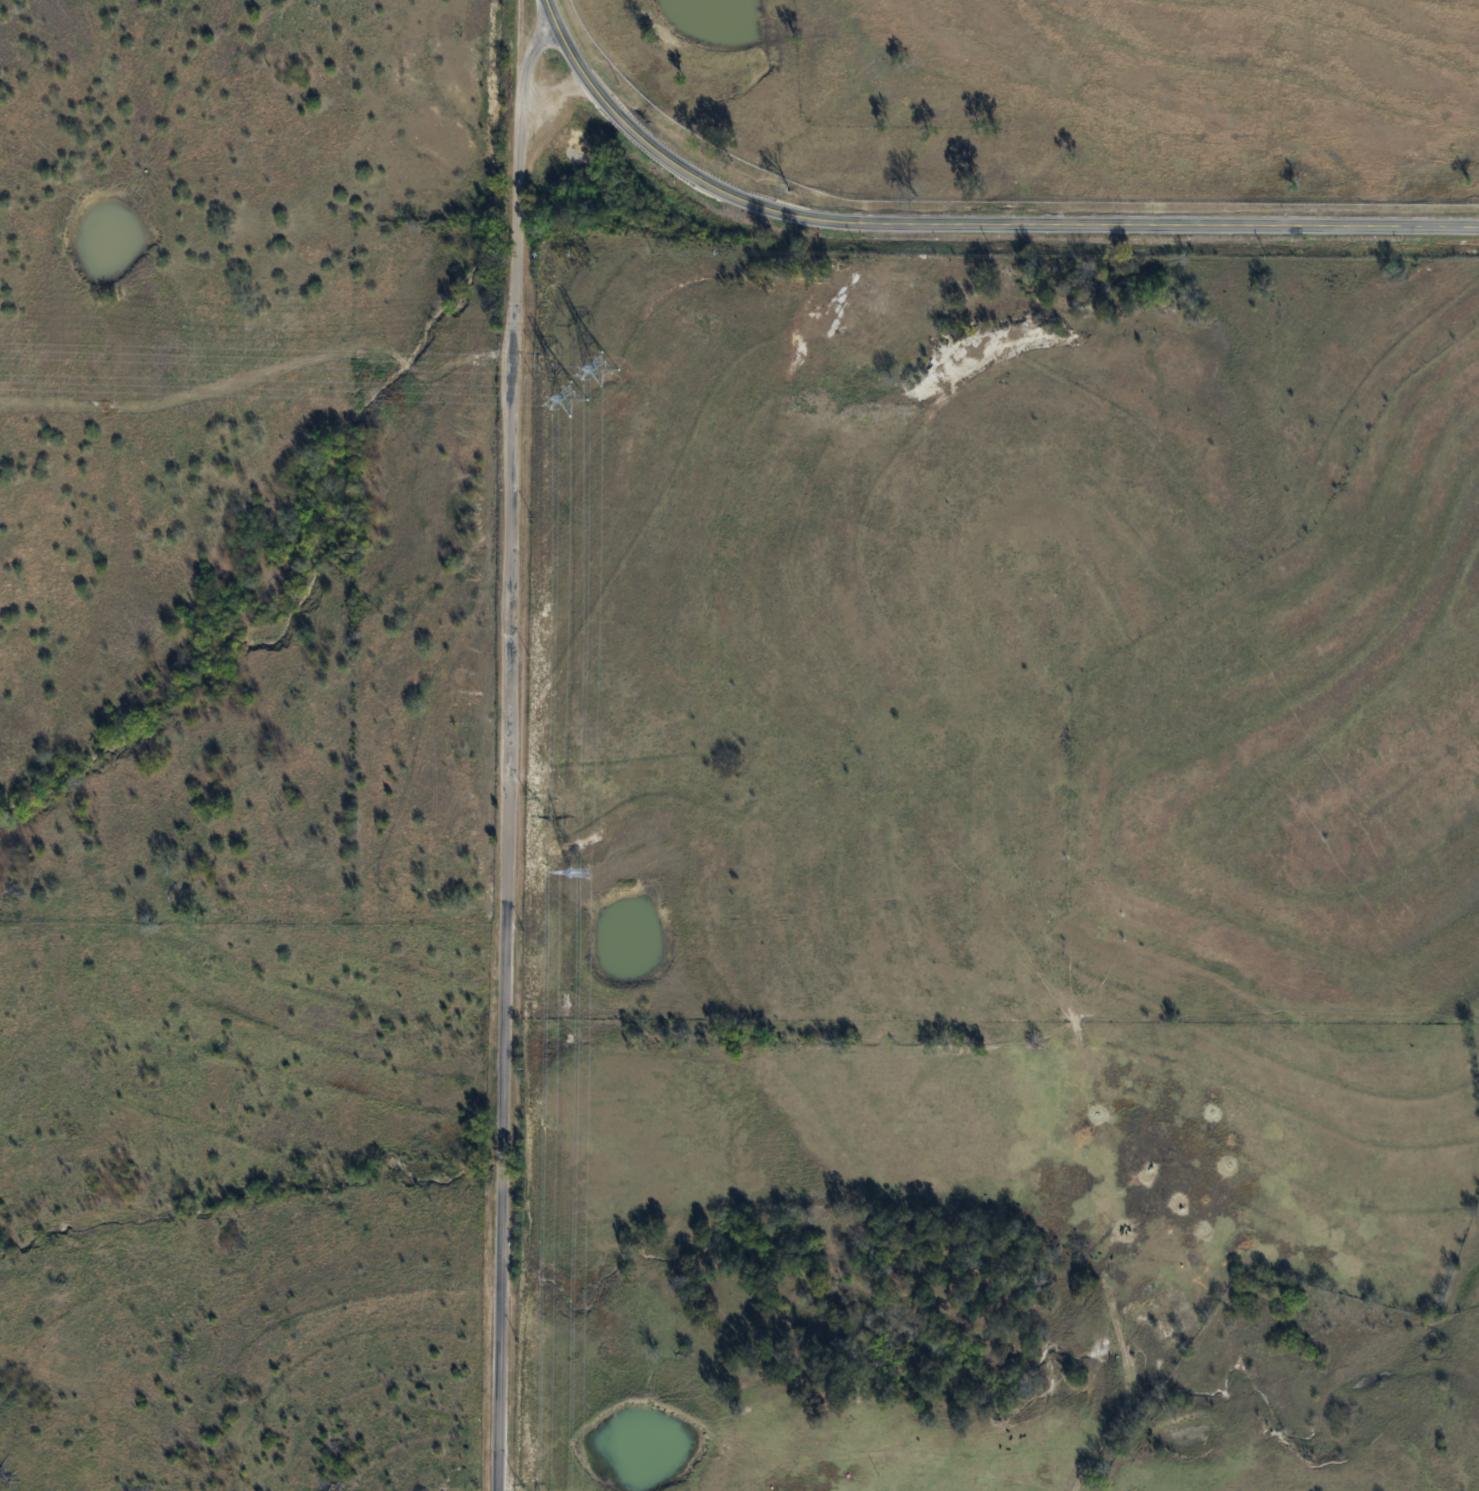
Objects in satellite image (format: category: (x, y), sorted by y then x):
road: (556, 25)
road: (992, 225)
power tower: (585, 383)
road: (509, 745)
power tower: (580, 873)

